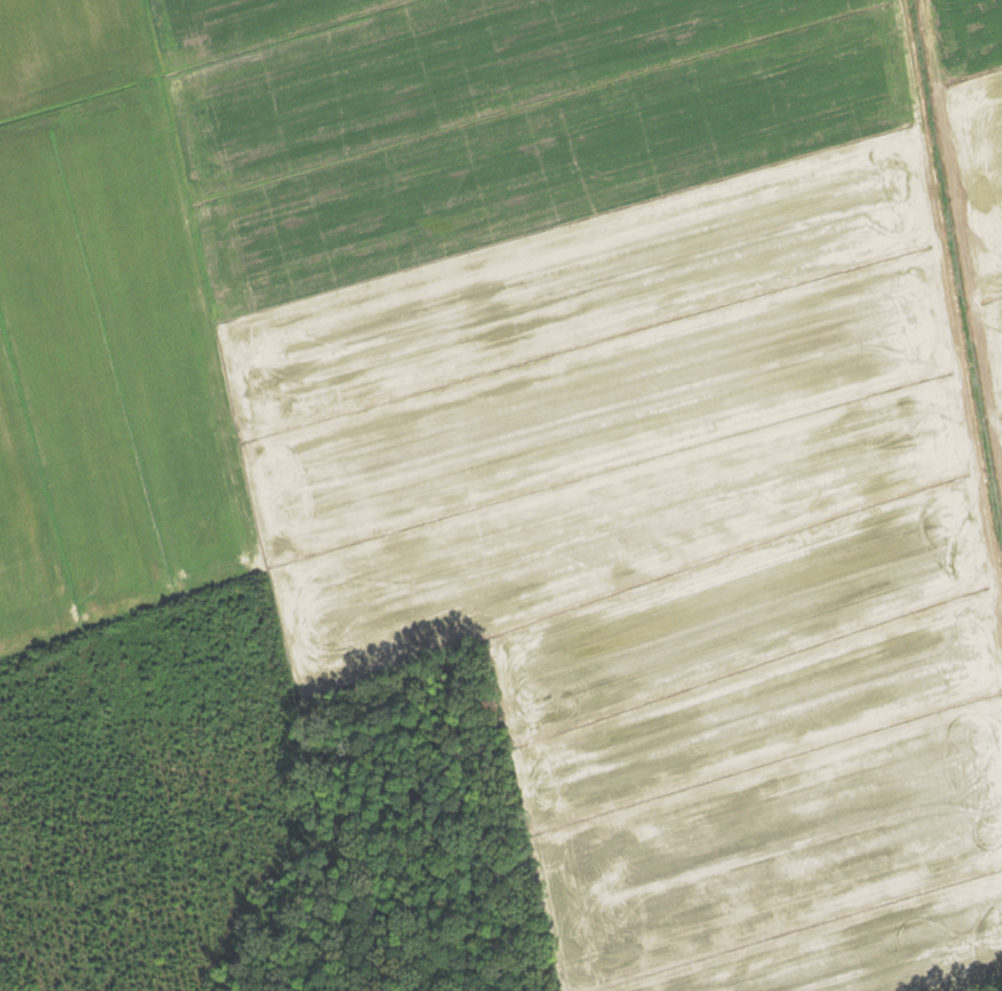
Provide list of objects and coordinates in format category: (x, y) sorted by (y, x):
road: (972, 200)

